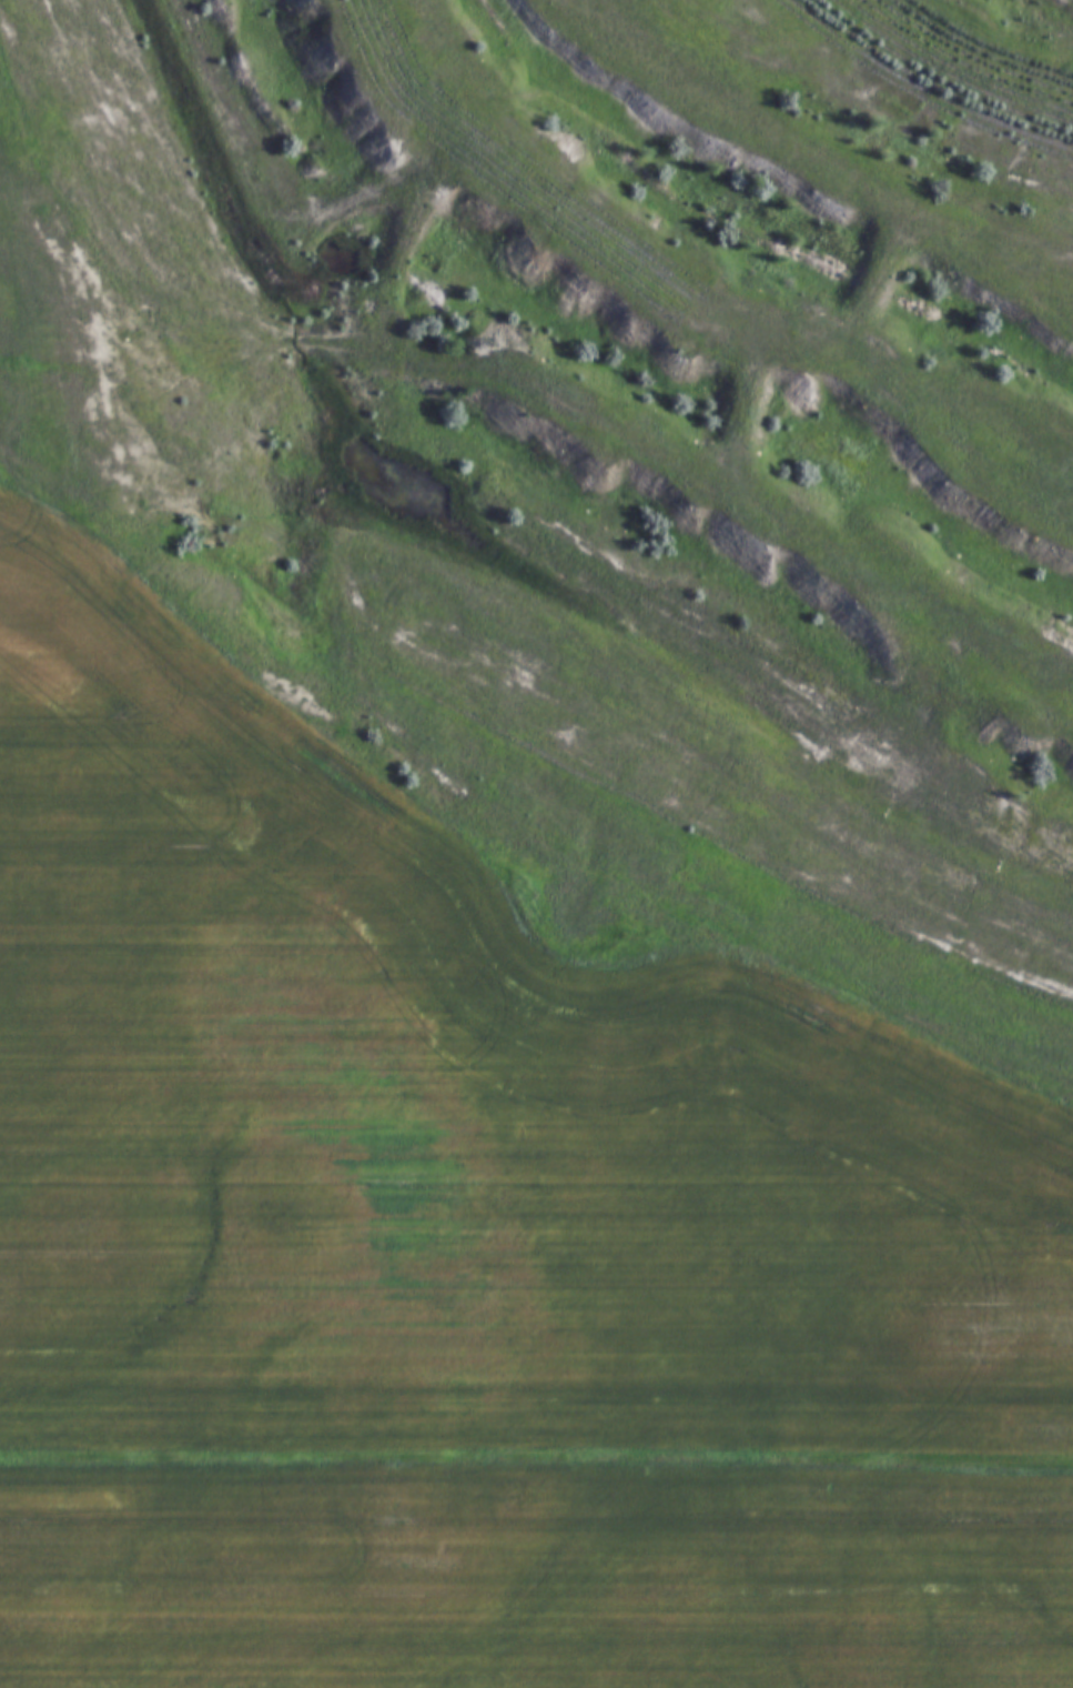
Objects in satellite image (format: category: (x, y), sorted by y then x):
road: (110, 268)
quarry: (599, 452)

